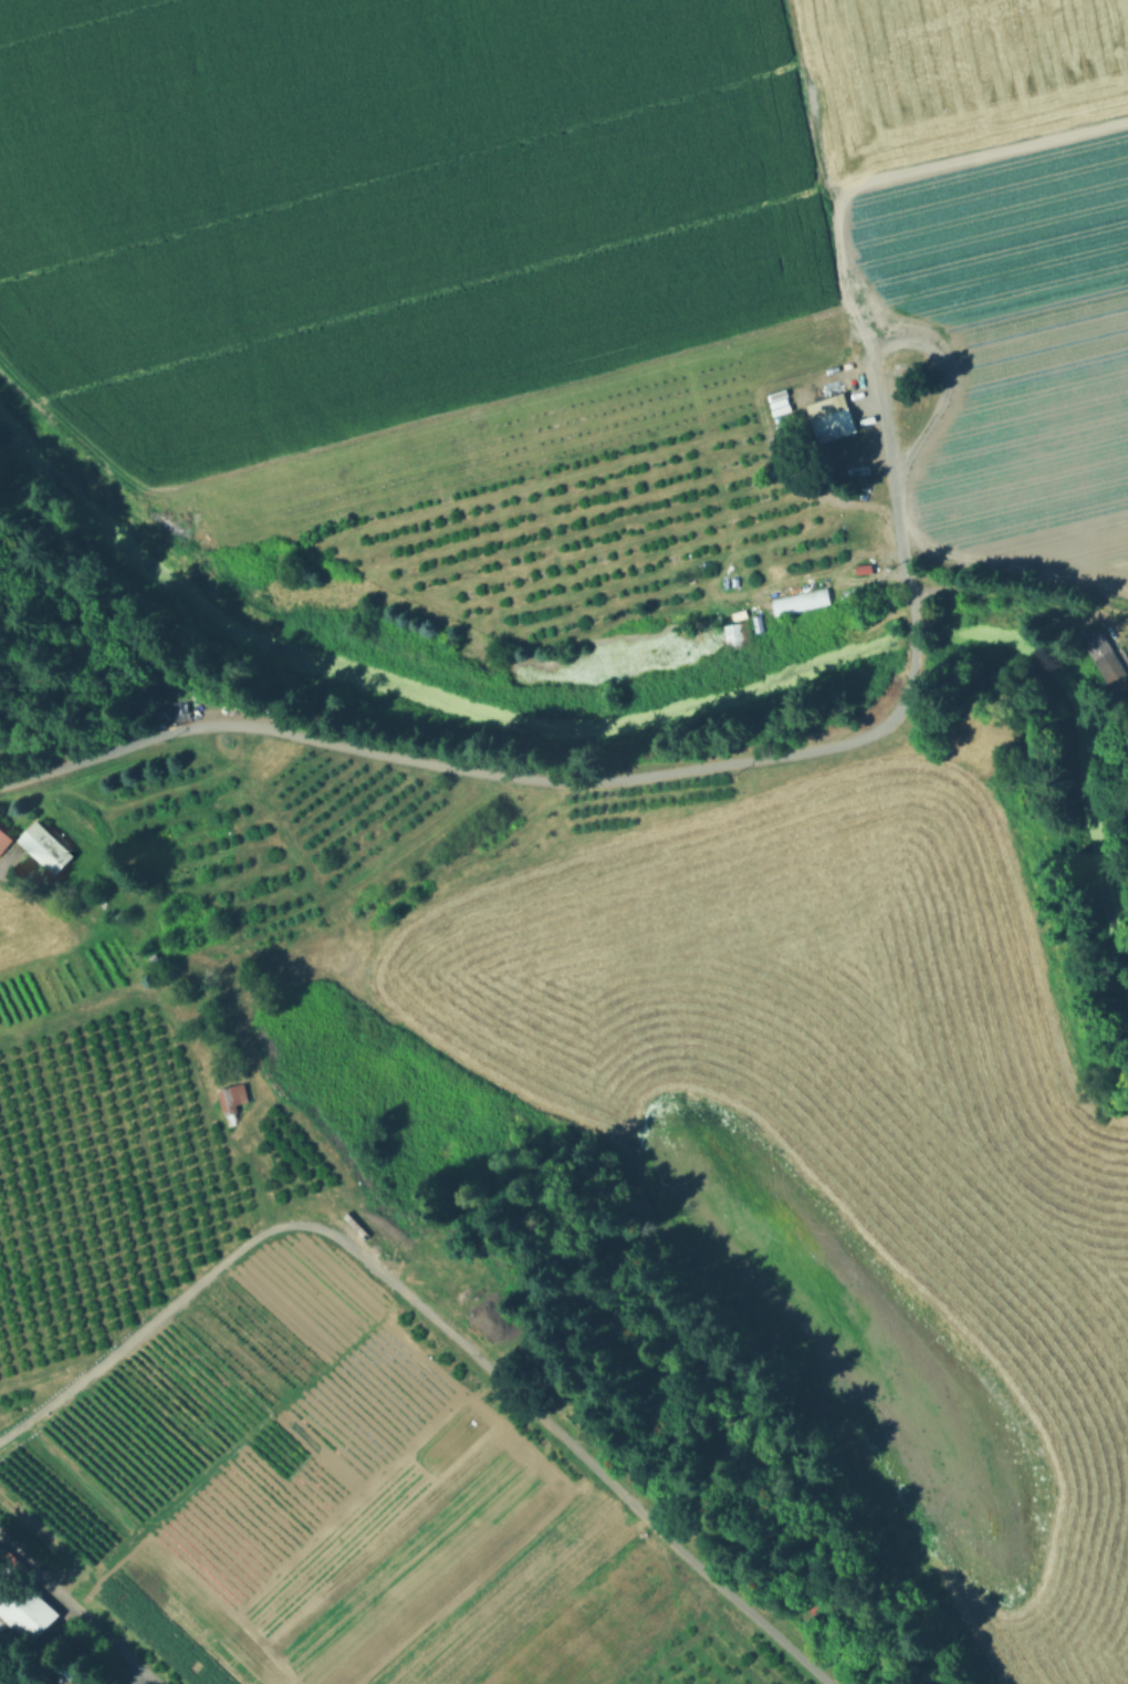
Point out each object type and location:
road: (816, 112)
crop: (582, 298)
building: (826, 409)
park: (40, 534)
road: (1007, 594)
building: (735, 638)
river: (919, 643)
building: (1098, 655)
river: (410, 695)
road: (623, 779)
building: (1, 832)
building: (2, 843)
building: (41, 845)
building: (227, 1101)
crop: (897, 1205)
building: (353, 1228)
road: (176, 1304)
building: (23, 1599)
road: (74, 1612)
building: (2, 1623)
building: (54, 1666)

